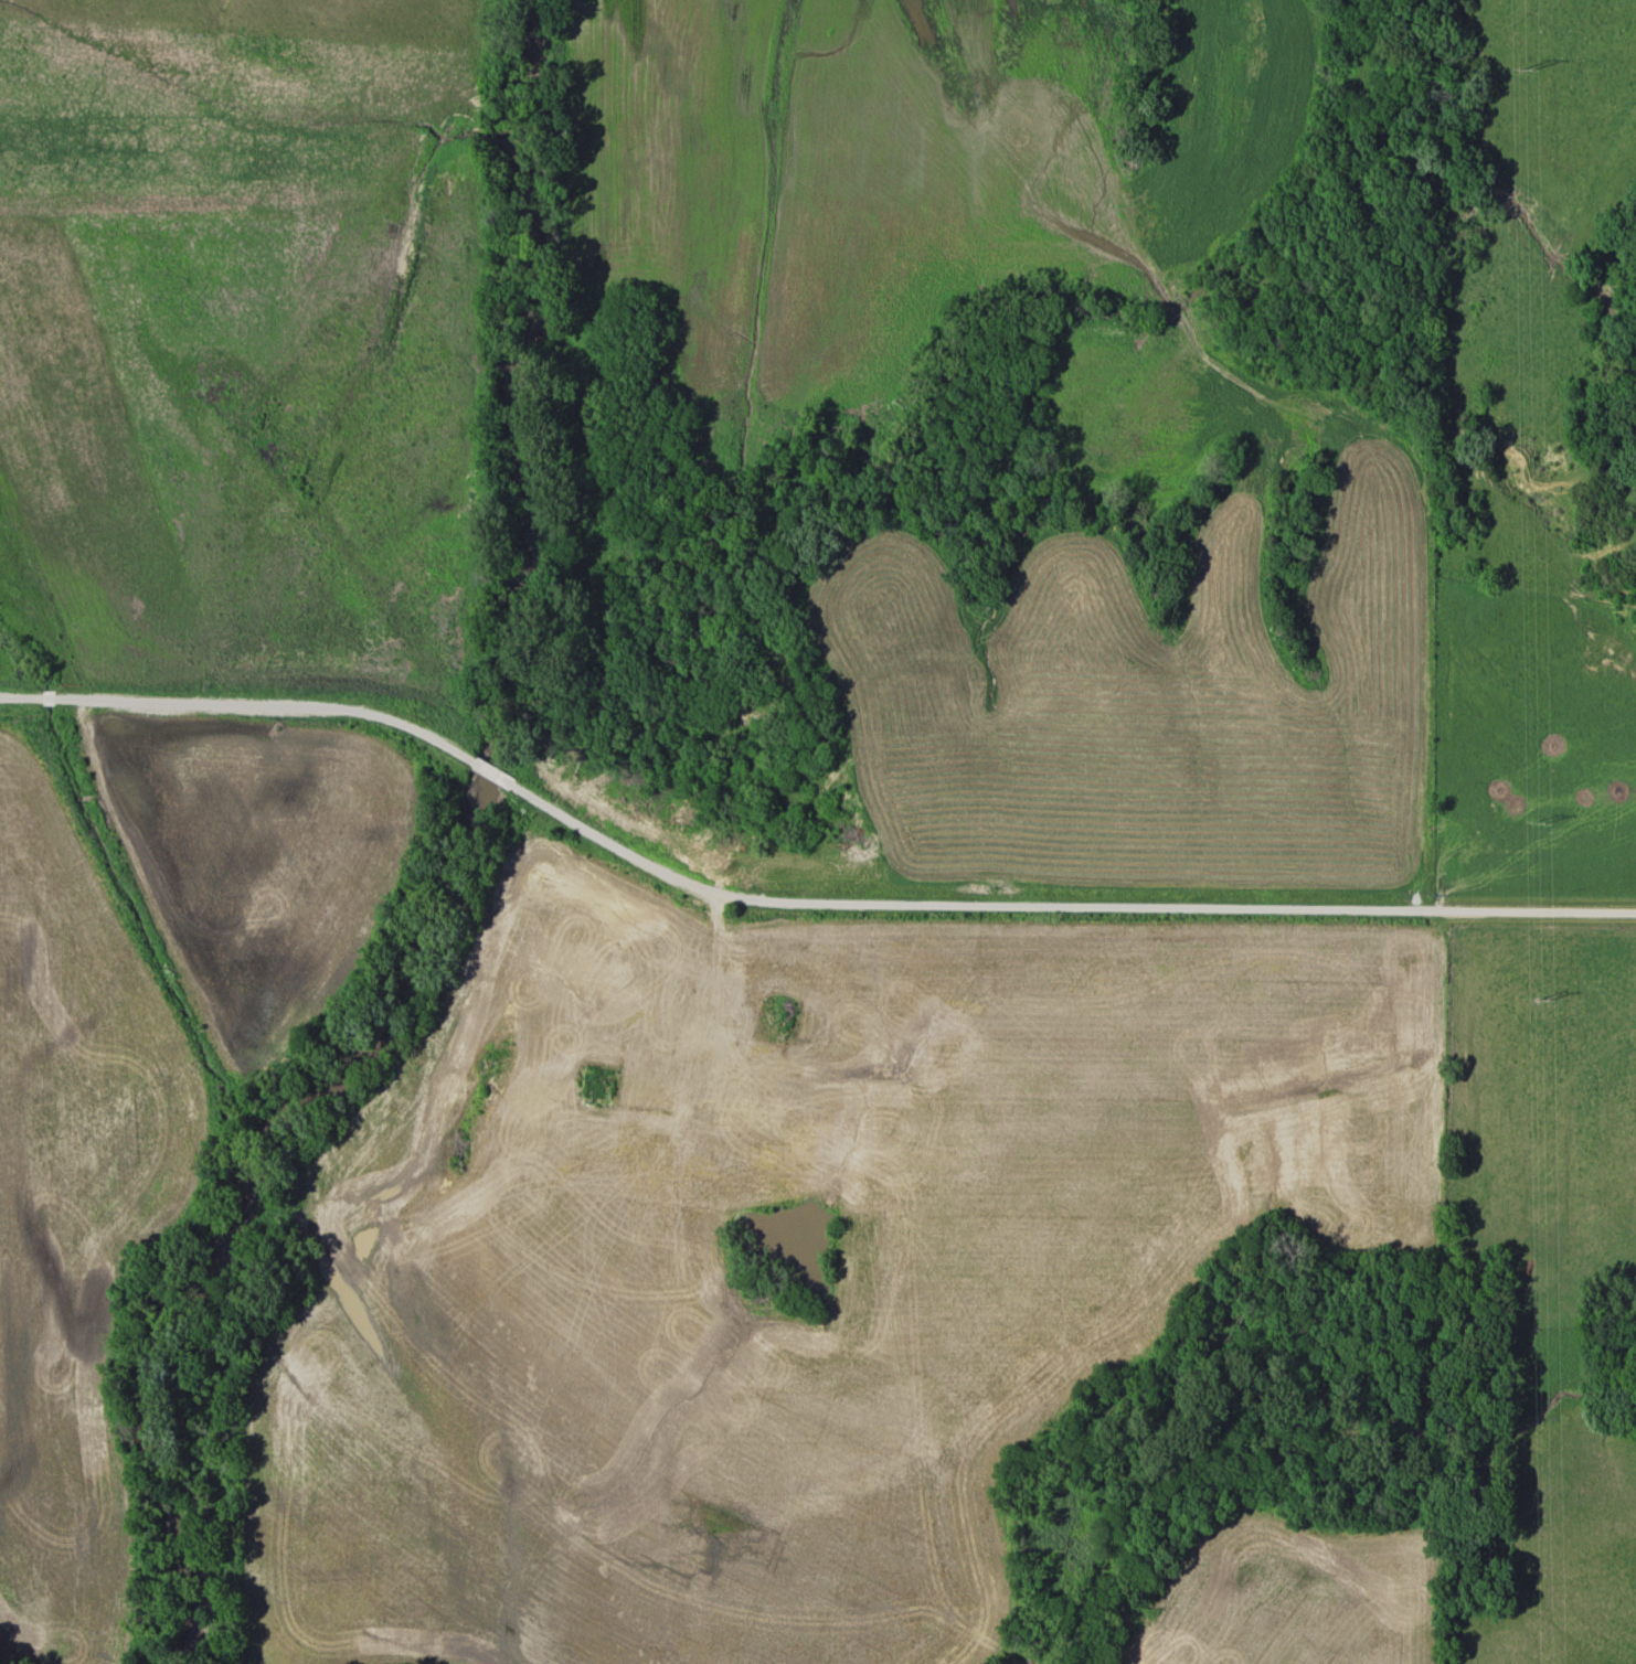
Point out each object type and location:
power tower: (1526, 72)
power tower: (1536, 828)
road: (794, 902)
road: (716, 969)
power tower: (1536, 1001)
building: (777, 1016)
building: (734, 1073)
building: (597, 1087)

